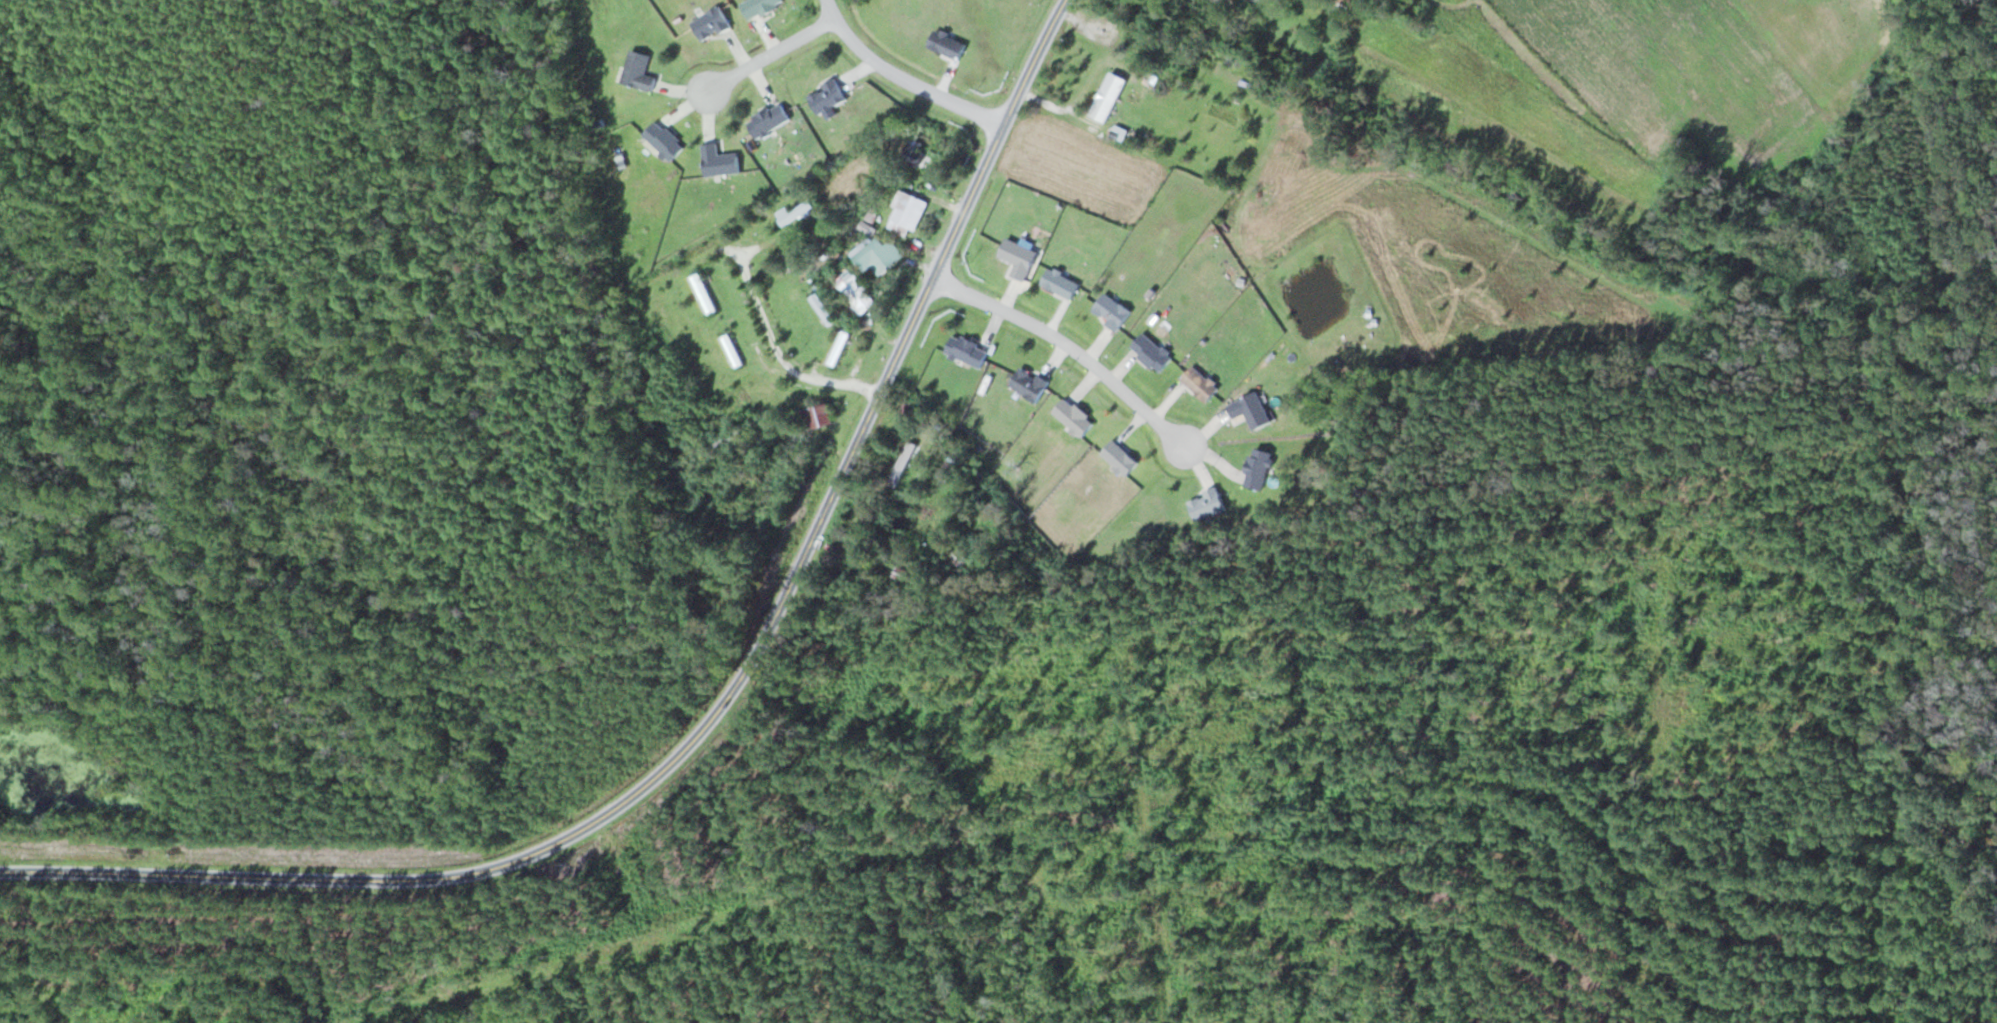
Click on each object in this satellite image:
building: (758, 6)
building: (710, 23)
building: (946, 43)
road: (768, 53)
building: (637, 71)
road: (901, 78)
building: (826, 96)
building: (1106, 96)
building: (767, 119)
building: (664, 139)
building: (913, 150)
building: (718, 160)
building: (793, 212)
building: (907, 212)
building: (876, 254)
building: (1018, 257)
building: (1060, 282)
building: (703, 292)
building: (853, 292)
building: (823, 308)
building: (1110, 311)
building: (838, 348)
road: (1071, 348)
building: (731, 350)
building: (966, 350)
building: (1150, 352)
building: (1028, 383)
building: (1199, 383)
building: (1249, 410)
building: (914, 411)
building: (816, 416)
building: (1072, 416)
building: (727, 439)
building: (1118, 457)
building: (902, 463)
building: (1256, 469)
building: (1205, 504)
building: (959, 556)
building: (902, 573)
road: (725, 702)

